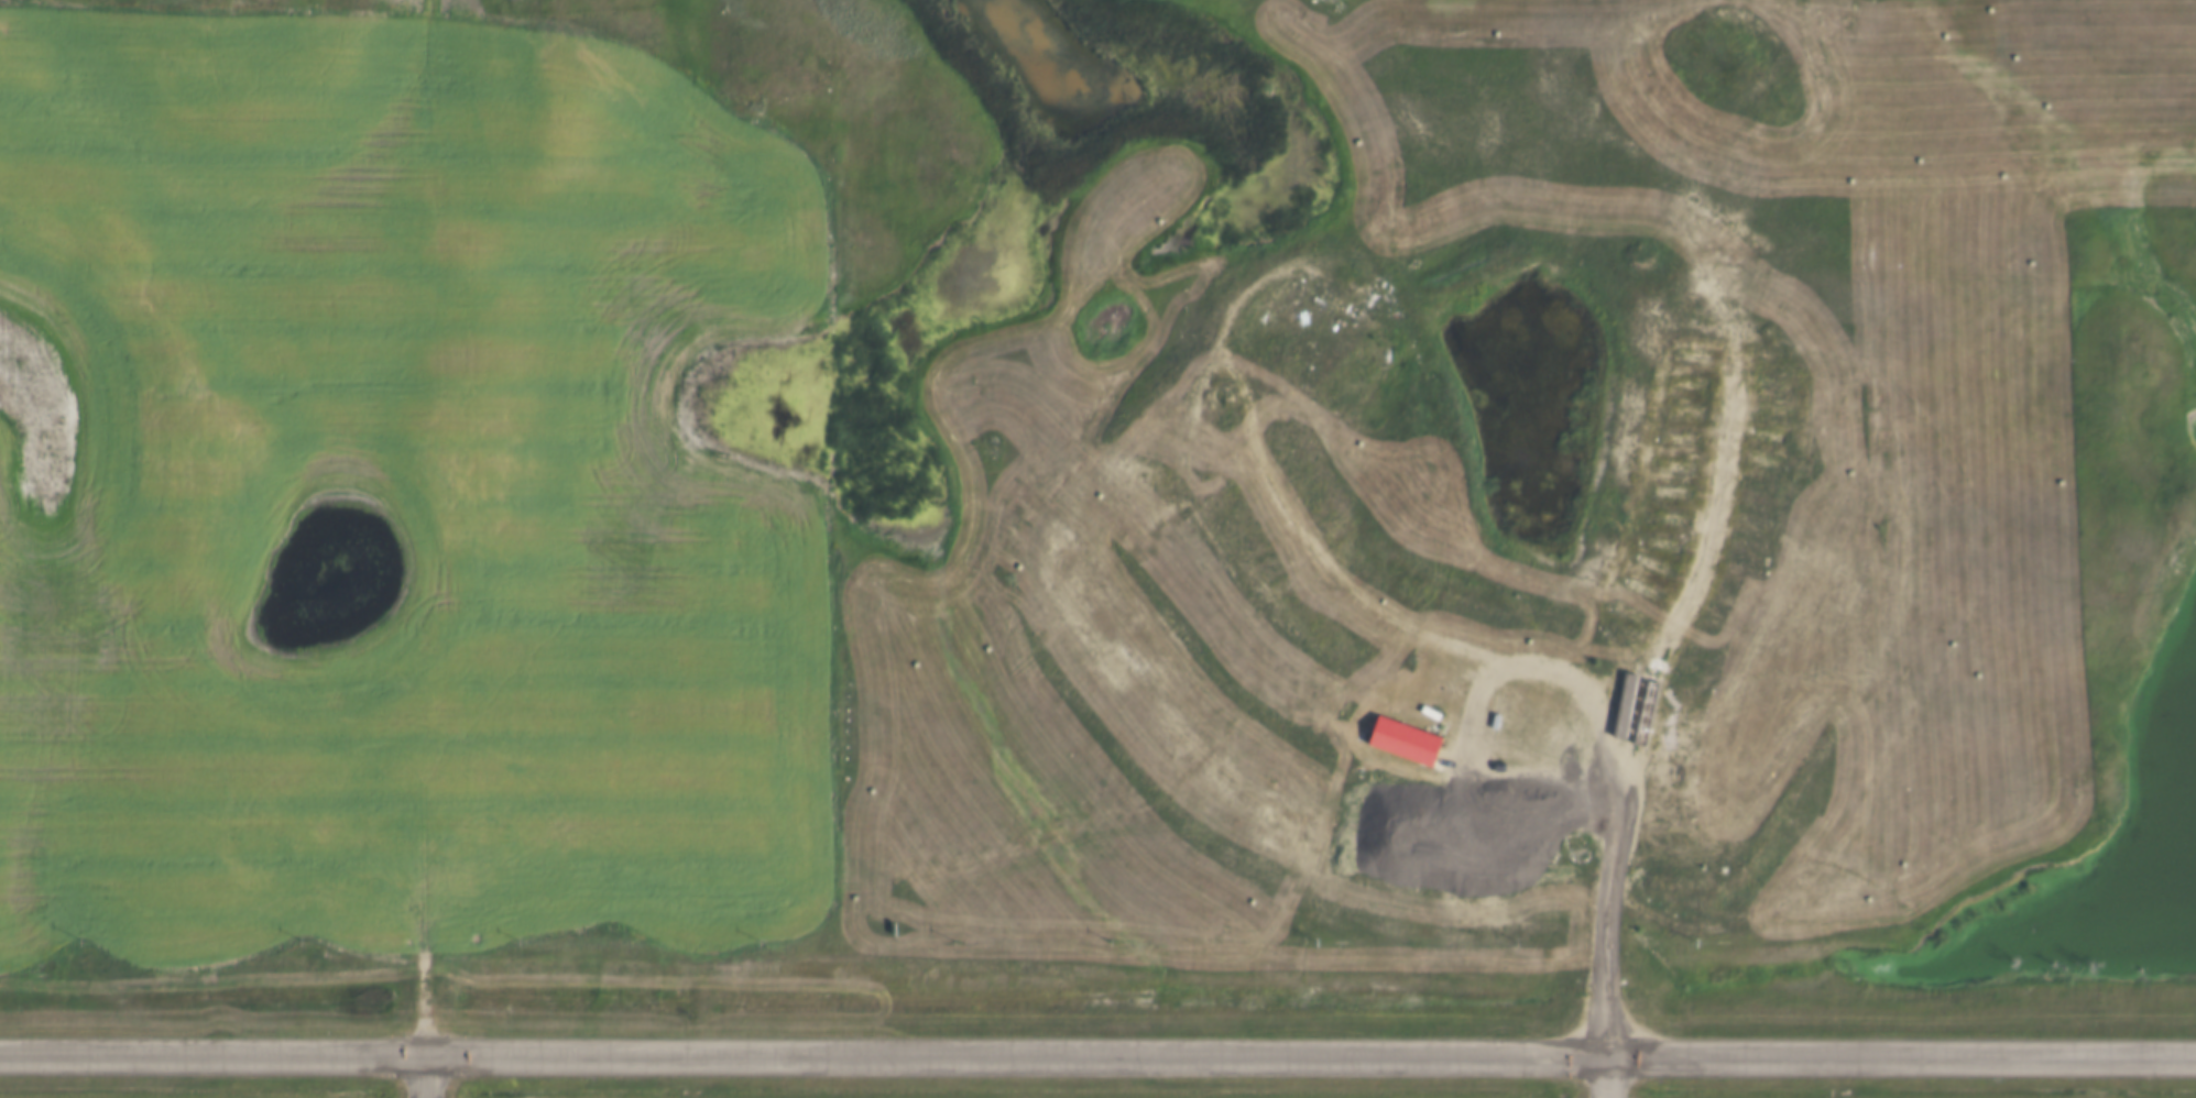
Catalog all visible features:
road: (1097, 1063)

